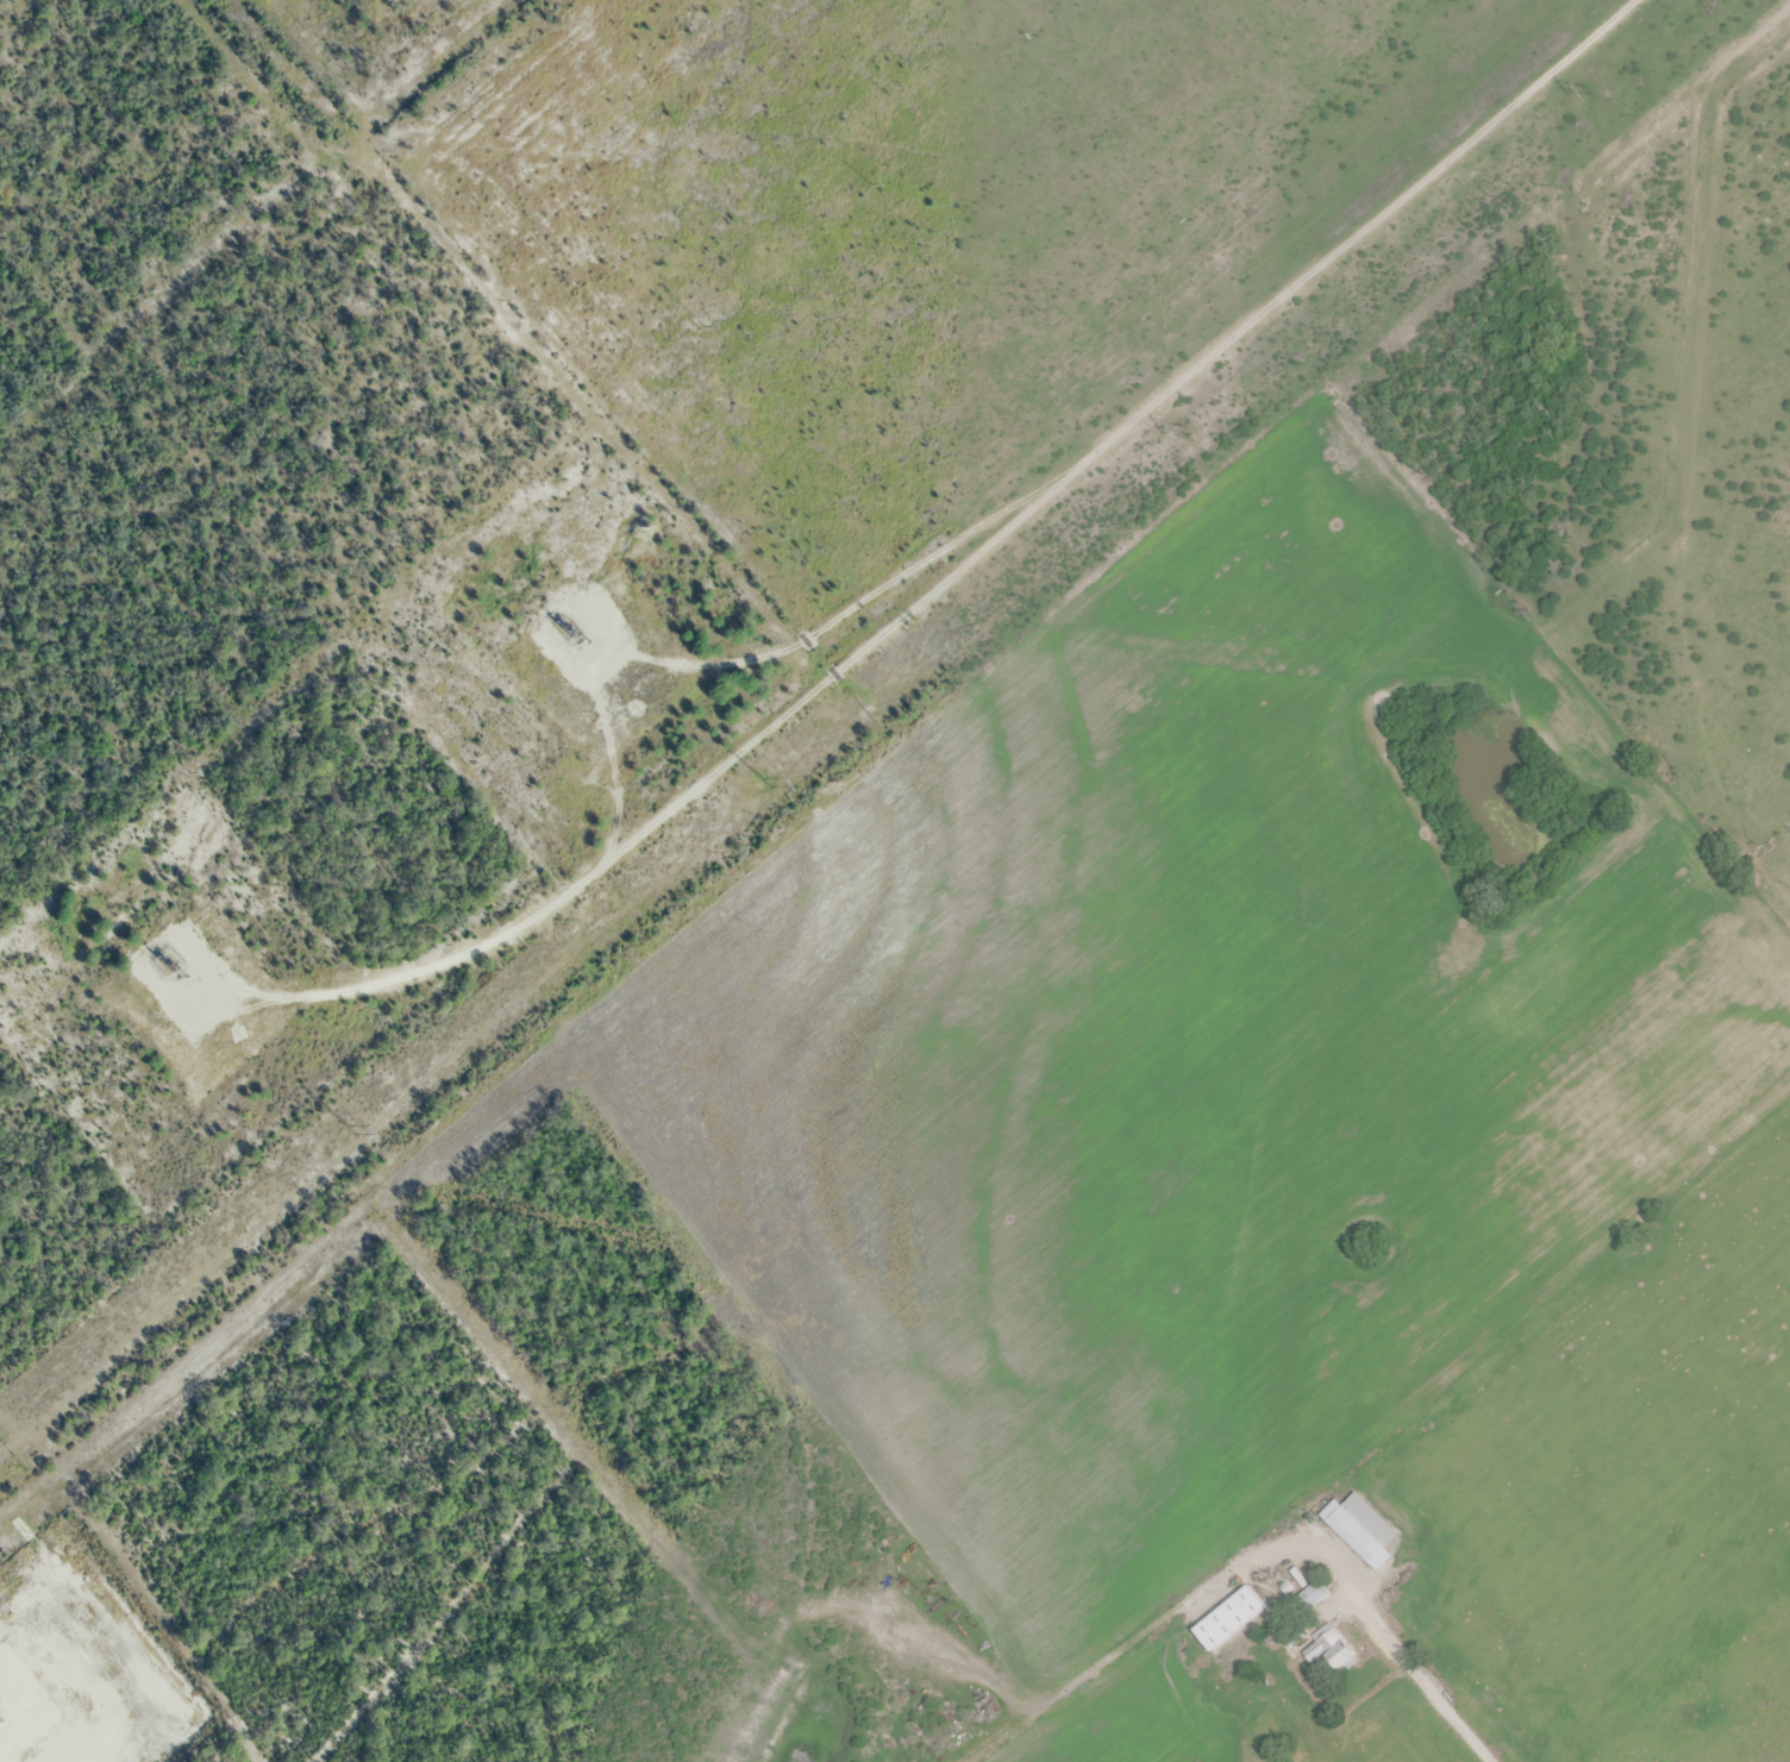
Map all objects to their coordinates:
power tower: (1589, 93)
power tower: (1185, 432)
road: (957, 557)
road: (821, 621)
power tower: (763, 777)
power tower: (349, 1125)
building: (1360, 1531)
building: (1308, 1599)
road: (1365, 1610)
building: (1228, 1622)
building: (1329, 1651)

